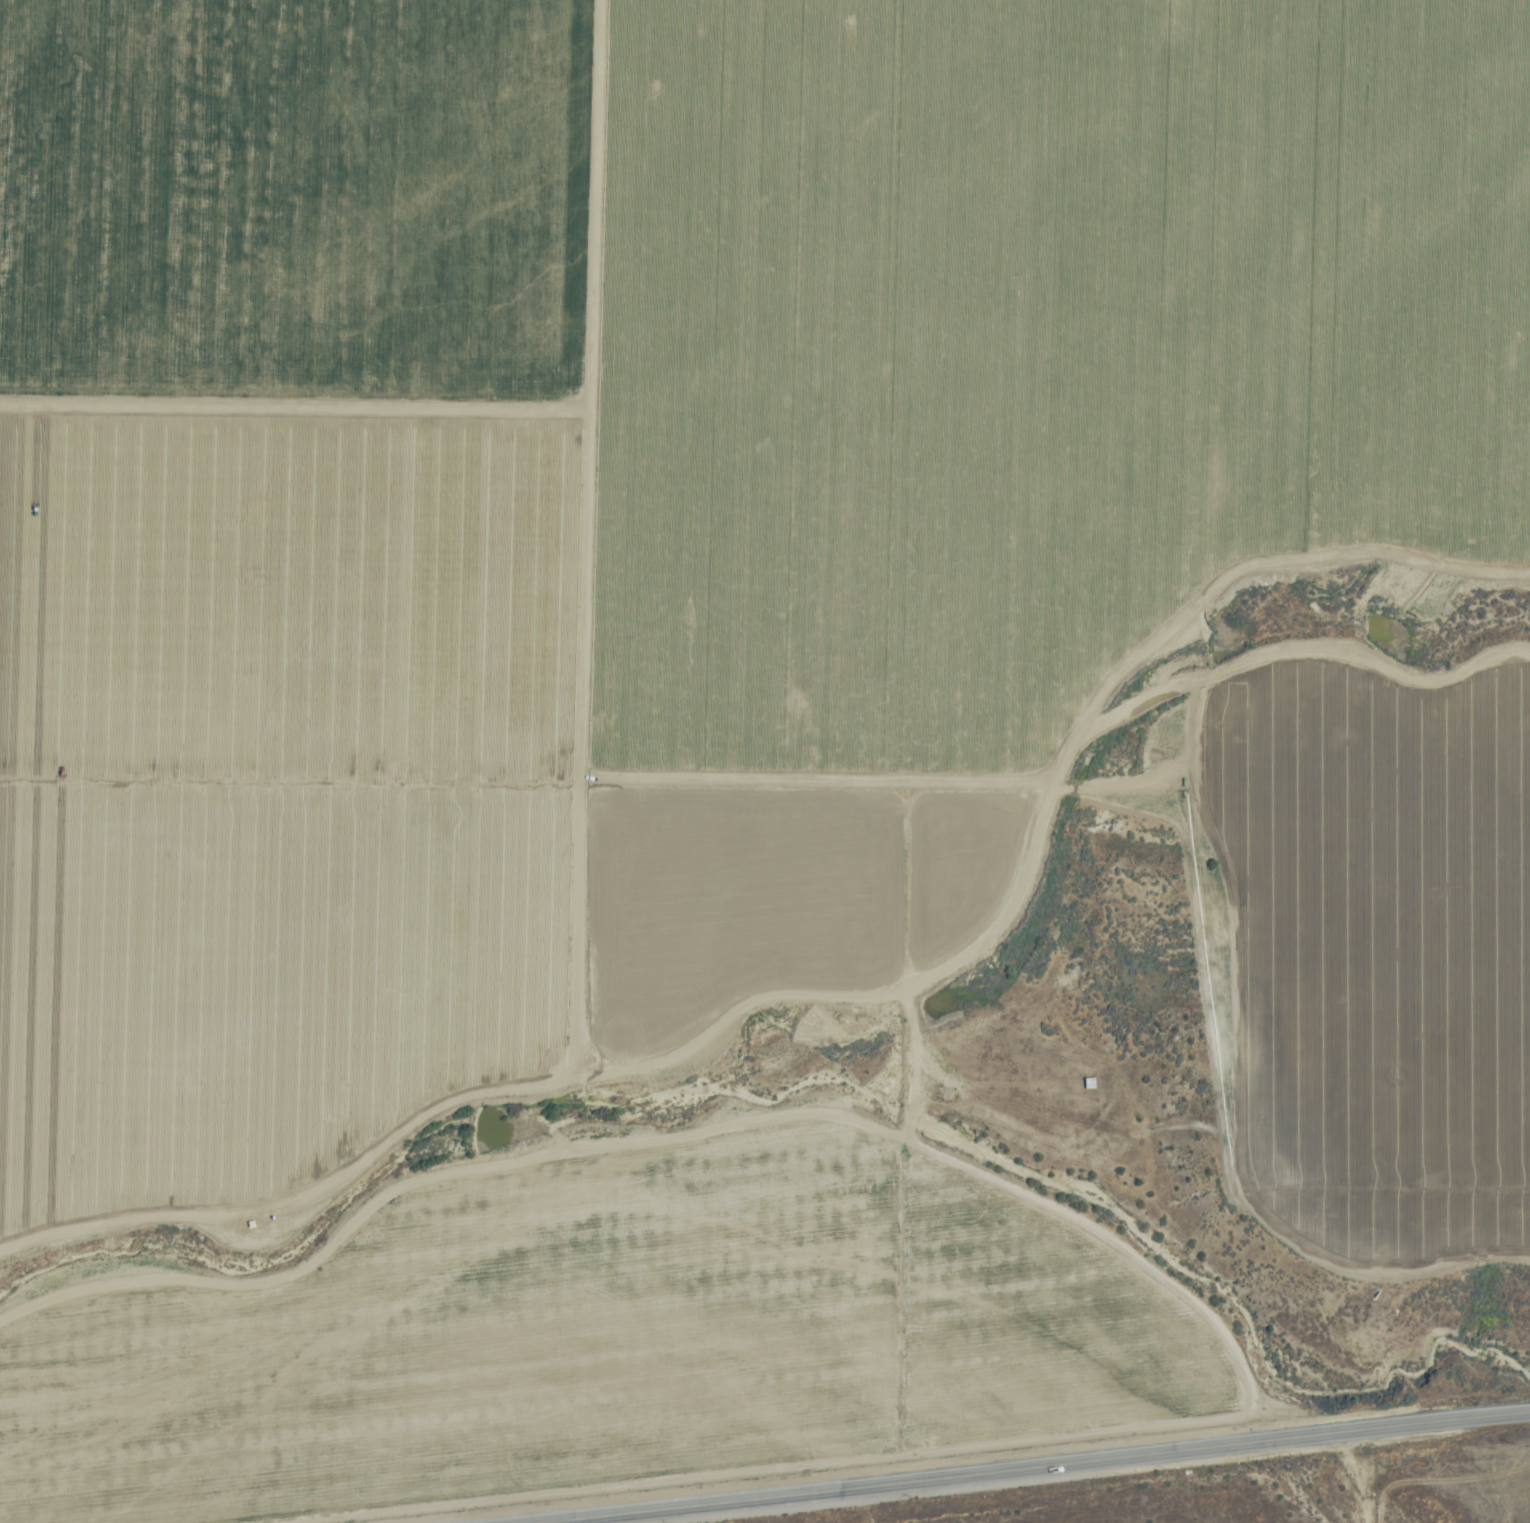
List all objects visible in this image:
crop: (996, 422)
crop: (282, 577)
crop: (1382, 952)
crop: (606, 1338)
road: (1035, 1468)

